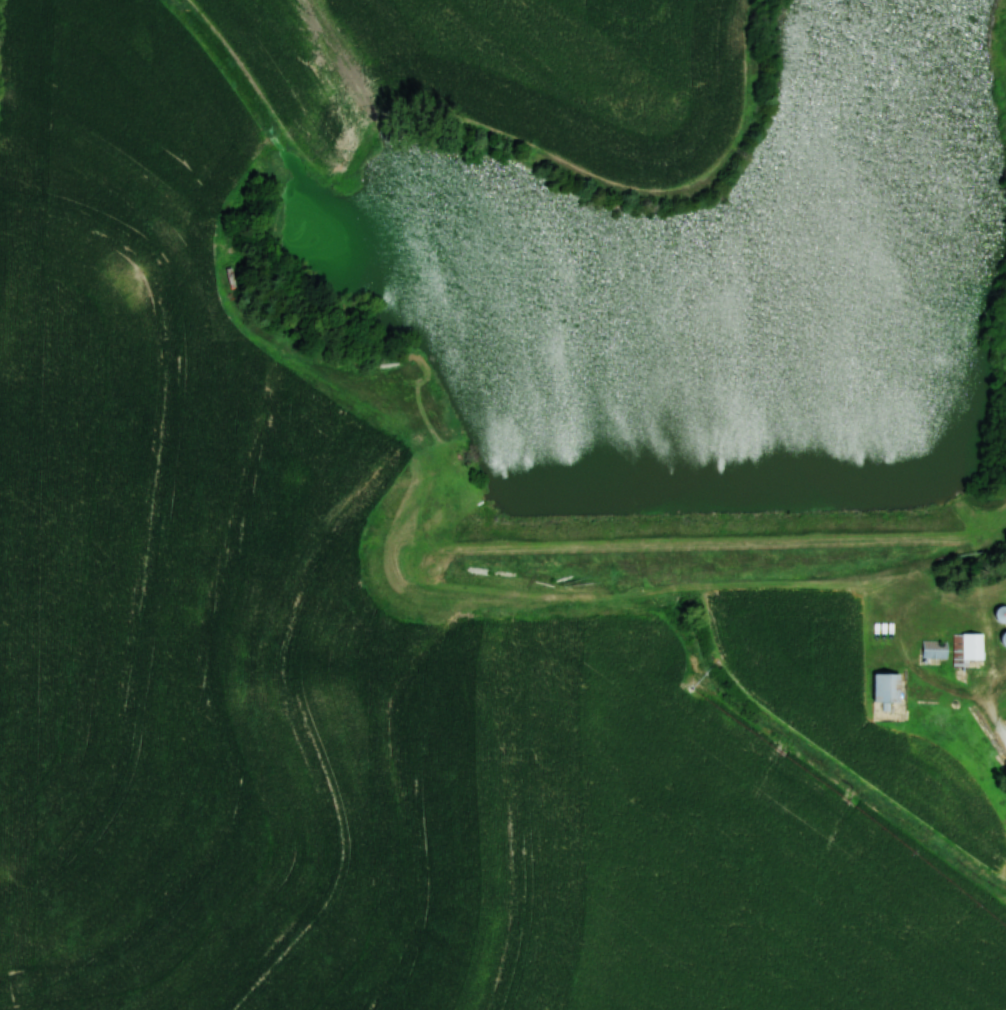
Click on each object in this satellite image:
building: (1001, 614)
building: (1004, 639)
building: (974, 649)
building: (934, 650)
building: (889, 689)

